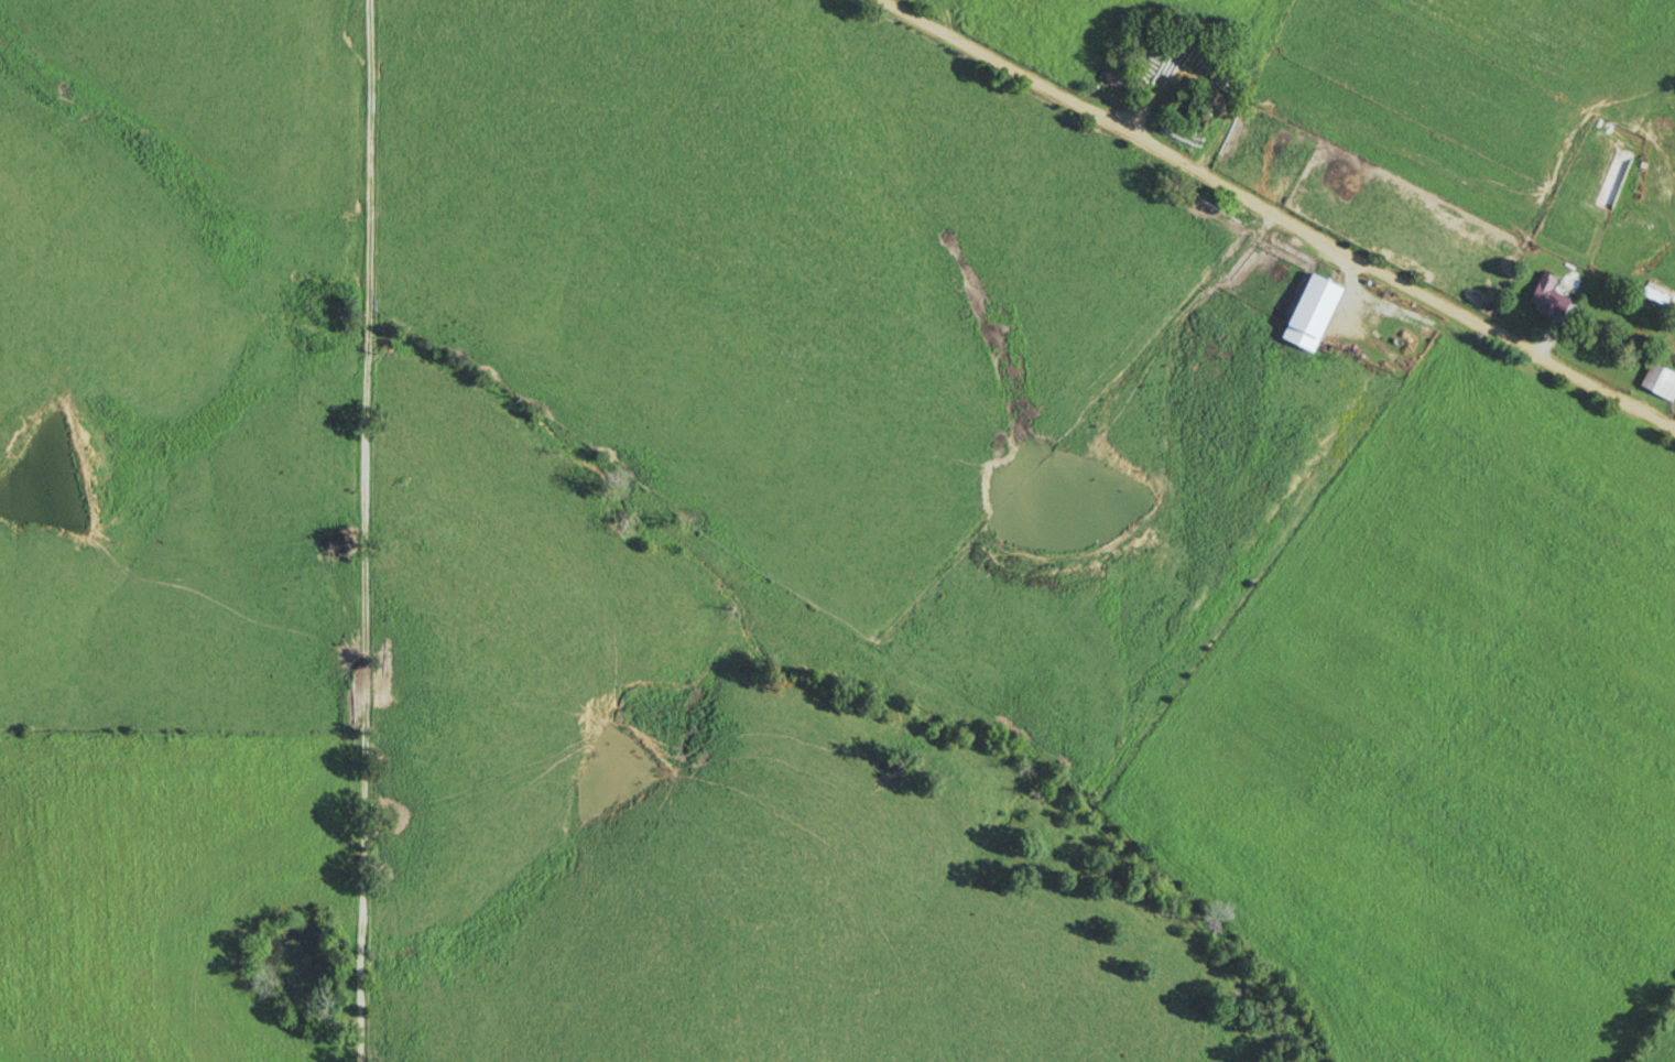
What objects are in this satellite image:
building: (1119, 74)
road: (1276, 216)
building: (1547, 292)
building: (1655, 293)
building: (1317, 312)
building: (1662, 379)
road: (366, 530)

